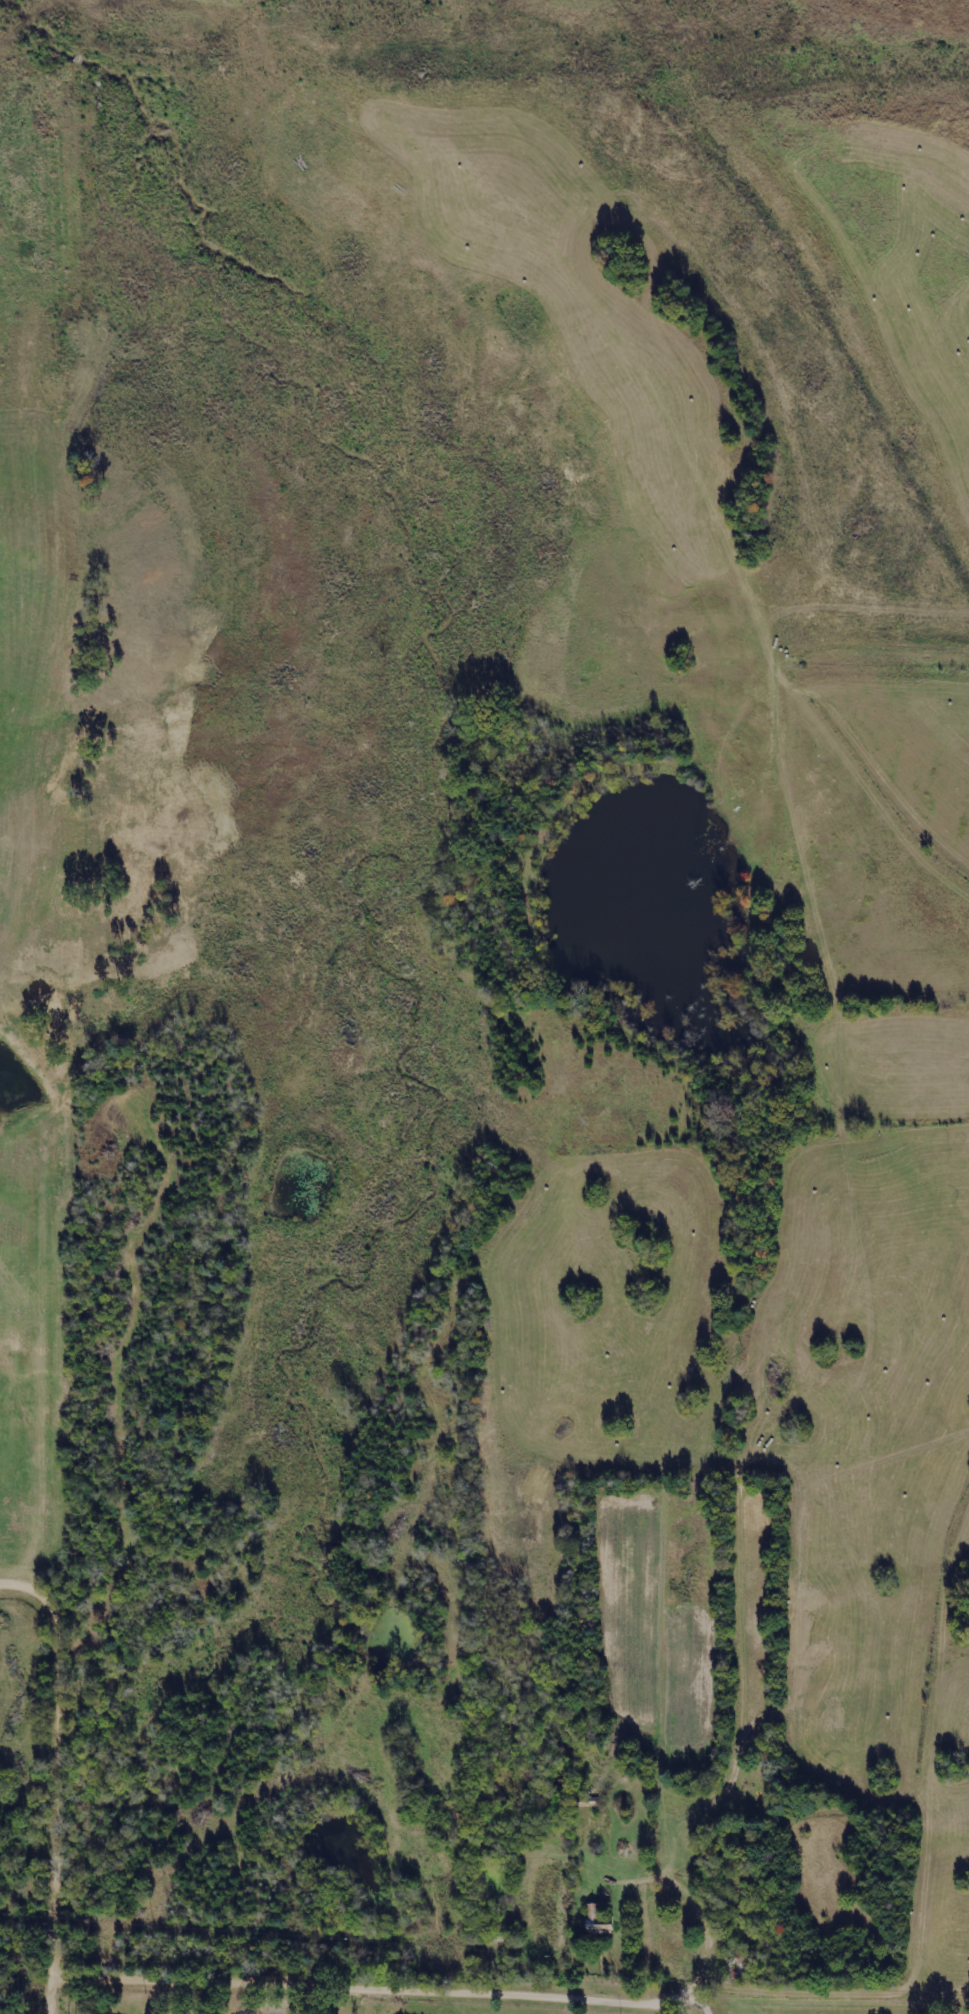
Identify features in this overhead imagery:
road: (70, 1757)
building: (598, 1920)

